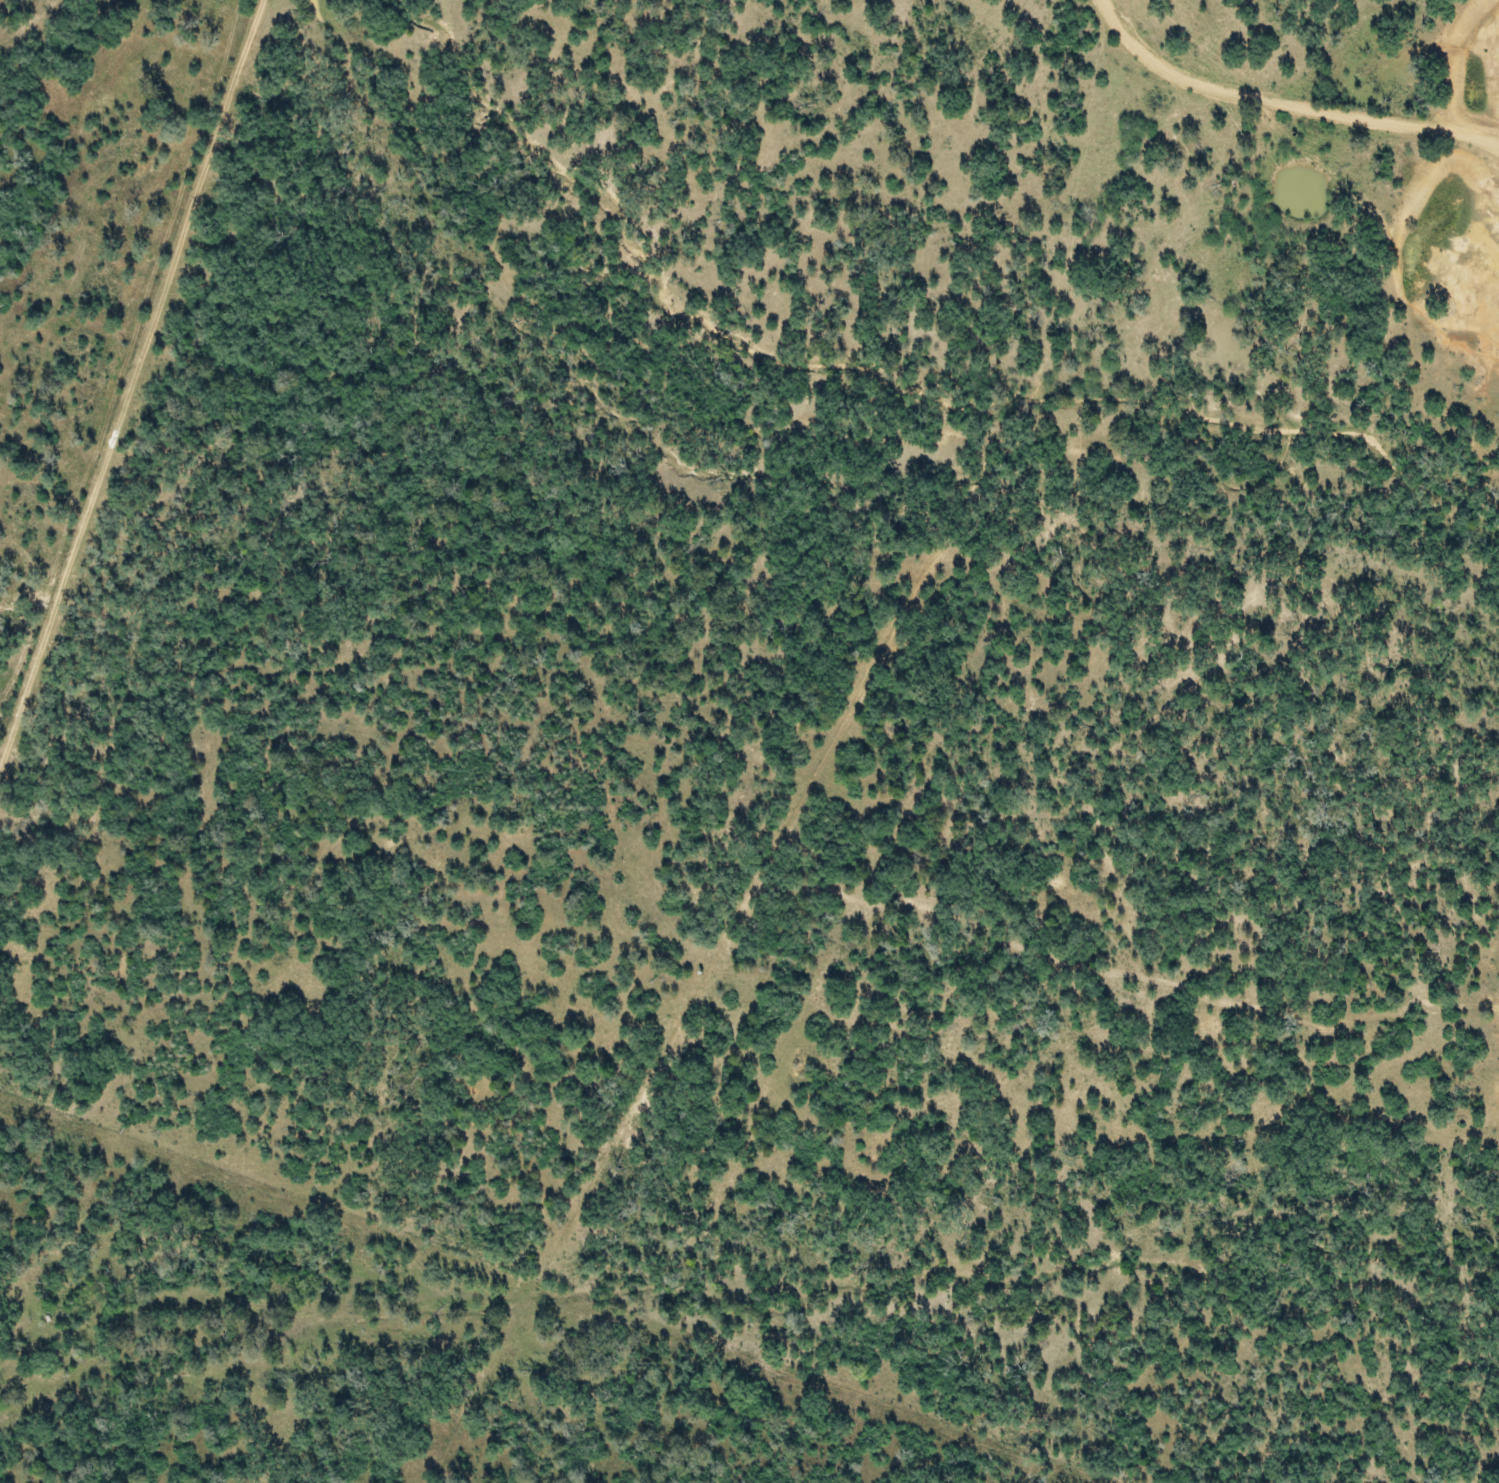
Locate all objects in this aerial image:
road: (1273, 149)

